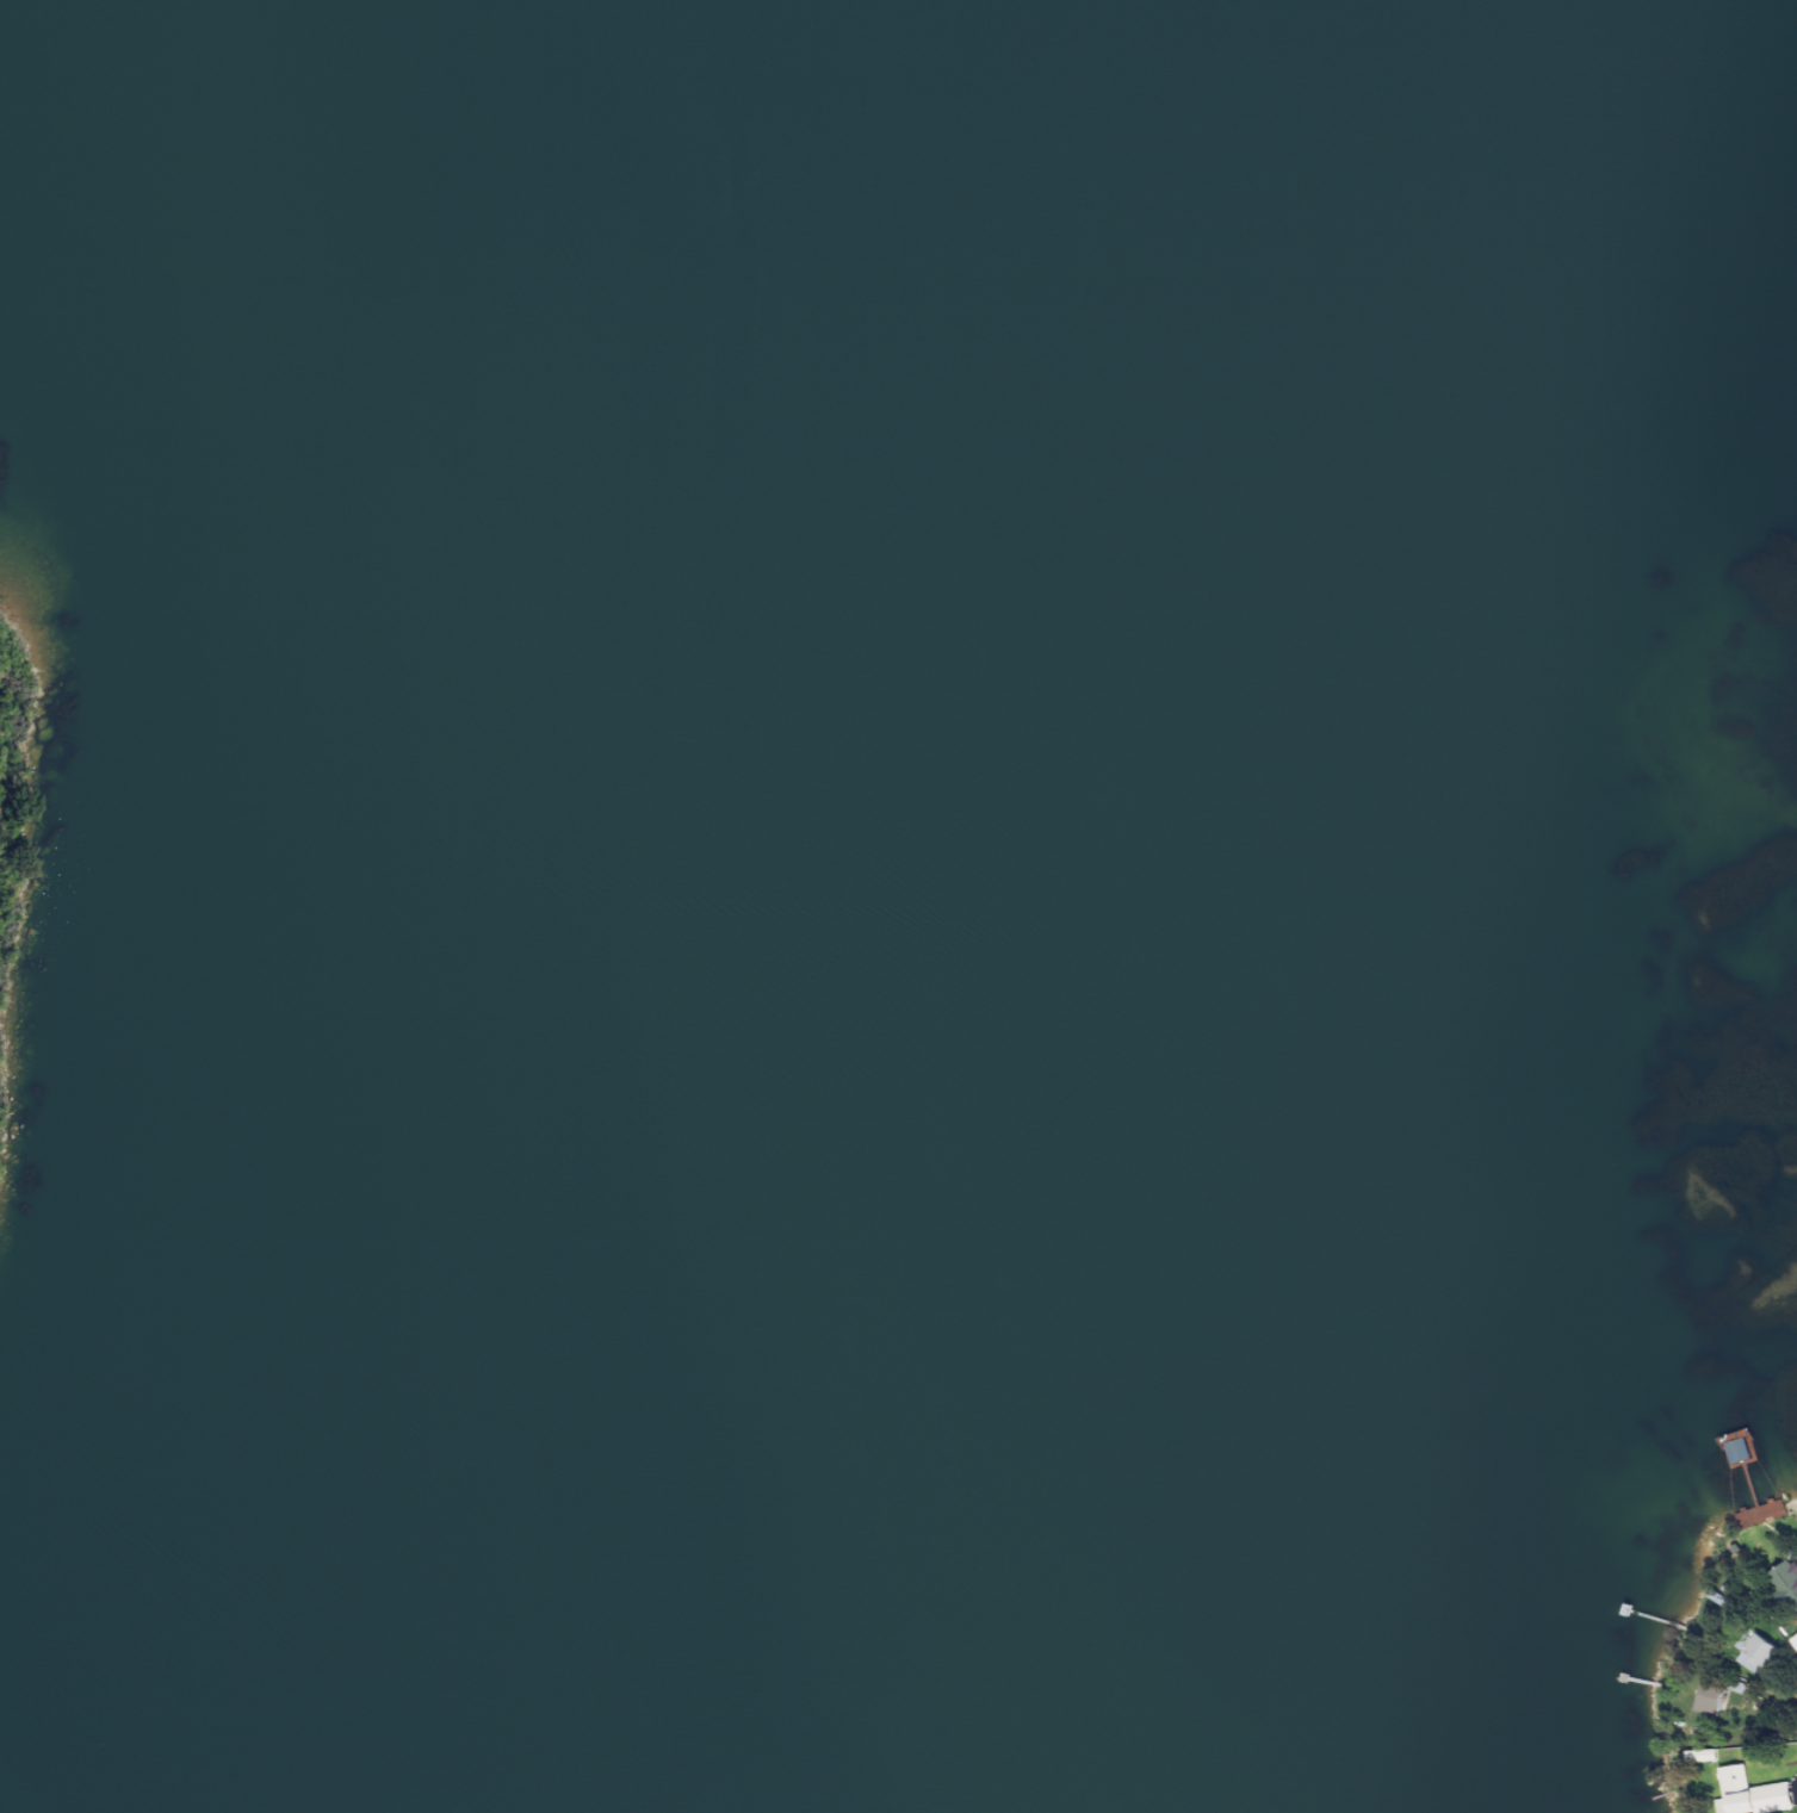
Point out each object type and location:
building: (1786, 1592)
building: (1795, 1650)
building: (1756, 1659)
building: (1714, 1709)
building: (1753, 1798)

